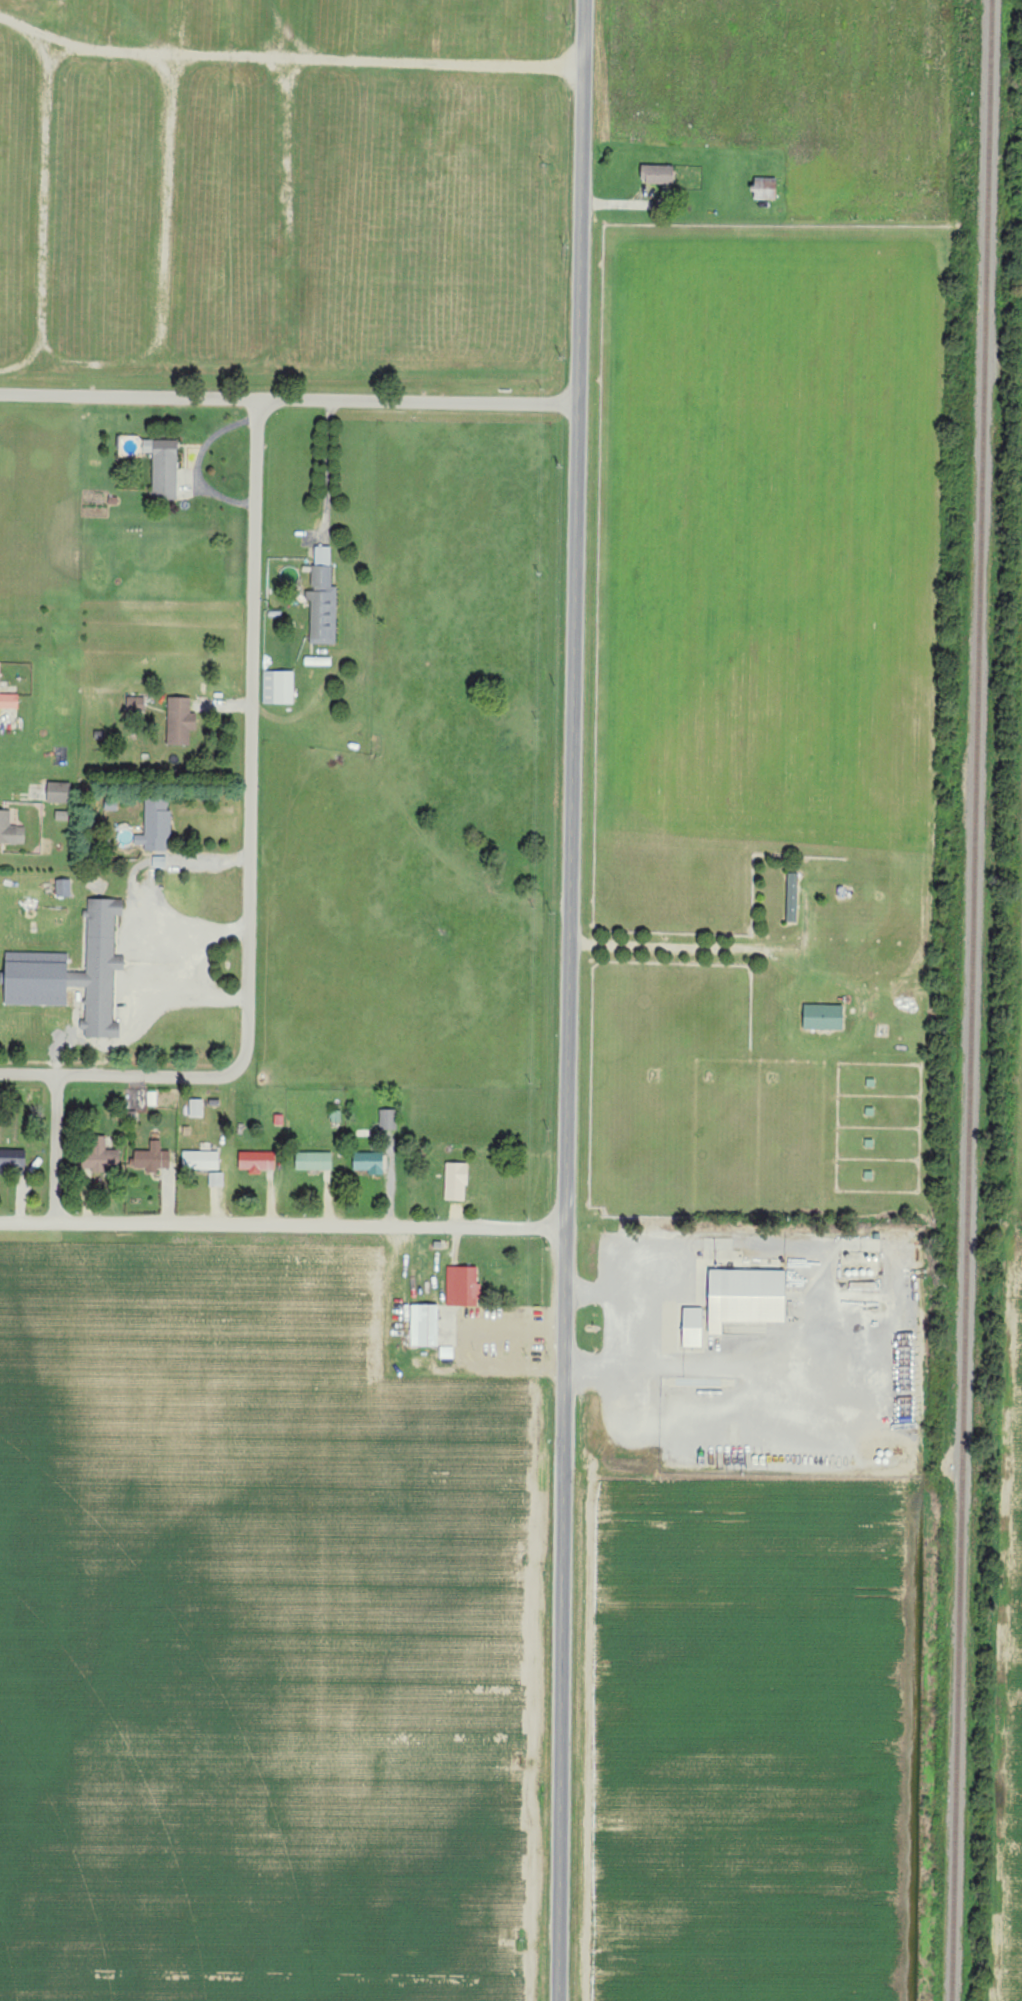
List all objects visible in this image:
building: (658, 174)
building: (766, 189)
road: (129, 398)
road: (419, 402)
building: (164, 467)
road: (331, 471)
building: (323, 599)
building: (278, 686)
building: (9, 699)
building: (136, 703)
building: (180, 720)
building: (59, 791)
building: (156, 825)
building: (10, 829)
road: (252, 857)
building: (160, 861)
building: (63, 887)
building: (792, 897)
road: (149, 932)
road: (689, 950)
building: (74, 972)
road: (569, 1000)
railway: (973, 1000)
building: (824, 1017)
building: (196, 1107)
building: (388, 1119)
road: (57, 1148)
building: (99, 1156)
building: (13, 1158)
building: (153, 1158)
building: (201, 1160)
building: (257, 1161)
building: (314, 1161)
building: (370, 1162)
building: (216, 1179)
building: (456, 1181)
road: (281, 1226)
building: (463, 1285)
building: (747, 1297)
building: (425, 1325)
road: (515, 1325)
building: (693, 1327)

